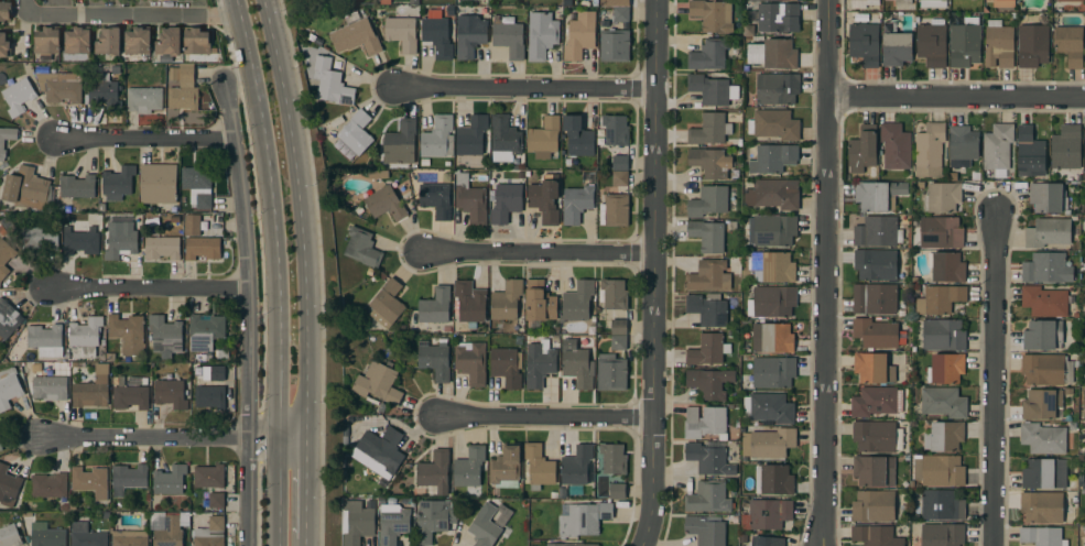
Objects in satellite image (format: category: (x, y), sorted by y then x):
building: (902, 1)
building: (386, 2)
building: (413, 2)
building: (615, 2)
building: (862, 3)
building: (933, 3)
building: (1002, 3)
building: (1064, 4)
building: (6, 10)
building: (401, 11)
building: (620, 14)
road: (130, 15)
building: (712, 15)
building: (778, 18)
building: (748, 31)
building: (401, 33)
building: (356, 35)
building: (436, 35)
building: (469, 35)
building: (541, 35)
building: (579, 35)
building: (508, 36)
building: (47, 40)
building: (138, 41)
building: (196, 41)
building: (108, 42)
building: (169, 42)
building: (77, 43)
building: (864, 43)
building: (932, 43)
building: (965, 43)
building: (998, 44)
building: (4, 45)
building: (614, 45)
building: (896, 45)
building: (1032, 45)
building: (1068, 45)
building: (772, 54)
building: (708, 55)
building: (332, 83)
building: (61, 87)
building: (749, 87)
building: (778, 88)
road: (525, 89)
building: (713, 89)
building: (184, 90)
building: (102, 94)
building: (18, 96)
road: (957, 96)
building: (143, 100)
building: (774, 124)
building: (709, 129)
building: (615, 130)
building: (356, 132)
building: (474, 136)
building: (577, 136)
building: (437, 138)
building: (544, 138)
building: (6, 139)
road: (147, 139)
building: (504, 139)
building: (400, 145)
building: (962, 145)
building: (896, 146)
building: (1066, 148)
building: (997, 149)
building: (862, 150)
building: (929, 150)
building: (1030, 153)
building: (1084, 154)
building: (771, 157)
building: (709, 162)
building: (424, 163)
building: (620, 163)
building: (521, 167)
building: (620, 178)
building: (118, 183)
building: (159, 185)
building: (198, 185)
building: (77, 186)
building: (29, 188)
building: (773, 194)
building: (878, 195)
building: (436, 196)
building: (942, 197)
building: (1048, 197)
building: (544, 198)
building: (470, 200)
building: (707, 201)
building: (384, 203)
building: (506, 203)
building: (576, 203)
building: (616, 210)
road: (303, 217)
building: (174, 219)
building: (196, 226)
building: (1083, 226)
building: (771, 230)
building: (877, 232)
building: (941, 232)
building: (1048, 232)
building: (119, 236)
building: (707, 236)
building: (40, 237)
building: (79, 241)
building: (162, 247)
building: (203, 248)
building: (361, 248)
road: (539, 252)
building: (4, 258)
road: (248, 260)
building: (875, 264)
building: (774, 266)
building: (945, 266)
building: (1046, 267)
road: (276, 271)
road: (654, 273)
road: (826, 273)
building: (709, 276)
road: (150, 287)
building: (612, 294)
building: (875, 298)
building: (940, 299)
building: (506, 301)
building: (469, 302)
building: (539, 302)
building: (577, 302)
building: (771, 302)
building: (1044, 302)
building: (387, 304)
building: (435, 306)
building: (707, 309)
building: (9, 318)
building: (618, 327)
building: (205, 331)
building: (128, 332)
building: (878, 332)
building: (942, 334)
building: (1042, 335)
building: (85, 336)
building: (165, 336)
building: (772, 338)
building: (45, 340)
building: (618, 342)
building: (708, 350)
building: (110, 357)
building: (434, 361)
building: (471, 361)
building: (539, 363)
building: (577, 364)
building: (506, 367)
building: (874, 368)
building: (946, 368)
building: (1046, 369)
building: (610, 372)
building: (772, 372)
building: (217, 373)
building: (1084, 375)
road: (995, 380)
building: (130, 381)
building: (378, 383)
building: (709, 383)
building: (9, 387)
building: (48, 387)
building: (93, 390)
building: (1068, 392)
building: (170, 394)
building: (130, 395)
building: (209, 396)
building: (1084, 398)
building: (876, 401)
building: (943, 402)
building: (1041, 404)
building: (768, 407)
road: (546, 415)
building: (705, 423)
building: (1072, 425)
building: (877, 436)
building: (944, 436)
road: (144, 437)
road: (278, 437)
building: (1042, 438)
building: (768, 443)
building: (0, 445)
building: (382, 448)
building: (610, 459)
building: (708, 459)
building: (576, 465)
building: (469, 467)
building: (506, 467)
building: (539, 467)
building: (874, 470)
building: (940, 470)
building: (435, 472)
building: (1044, 474)
building: (208, 476)
building: (128, 478)
building: (169, 480)
building: (773, 480)
building: (90, 481)
building: (48, 485)
building: (8, 487)
road: (307, 488)
building: (617, 490)
road: (249, 491)
building: (707, 498)
building: (1073, 498)
building: (216, 500)
building: (941, 505)
building: (874, 506)
building: (1041, 507)
building: (500, 515)
building: (766, 515)
building: (582, 518)
building: (432, 521)
building: (356, 522)
building: (392, 523)
building: (487, 527)
building: (705, 529)
building: (169, 533)
building: (210, 533)
building: (46, 535)
building: (940, 535)
building: (10, 536)
building: (86, 536)
building: (875, 536)
building: (1041, 536)
building: (129, 538)
road: (307, 542)
building: (766, 542)
building: (574, 545)

